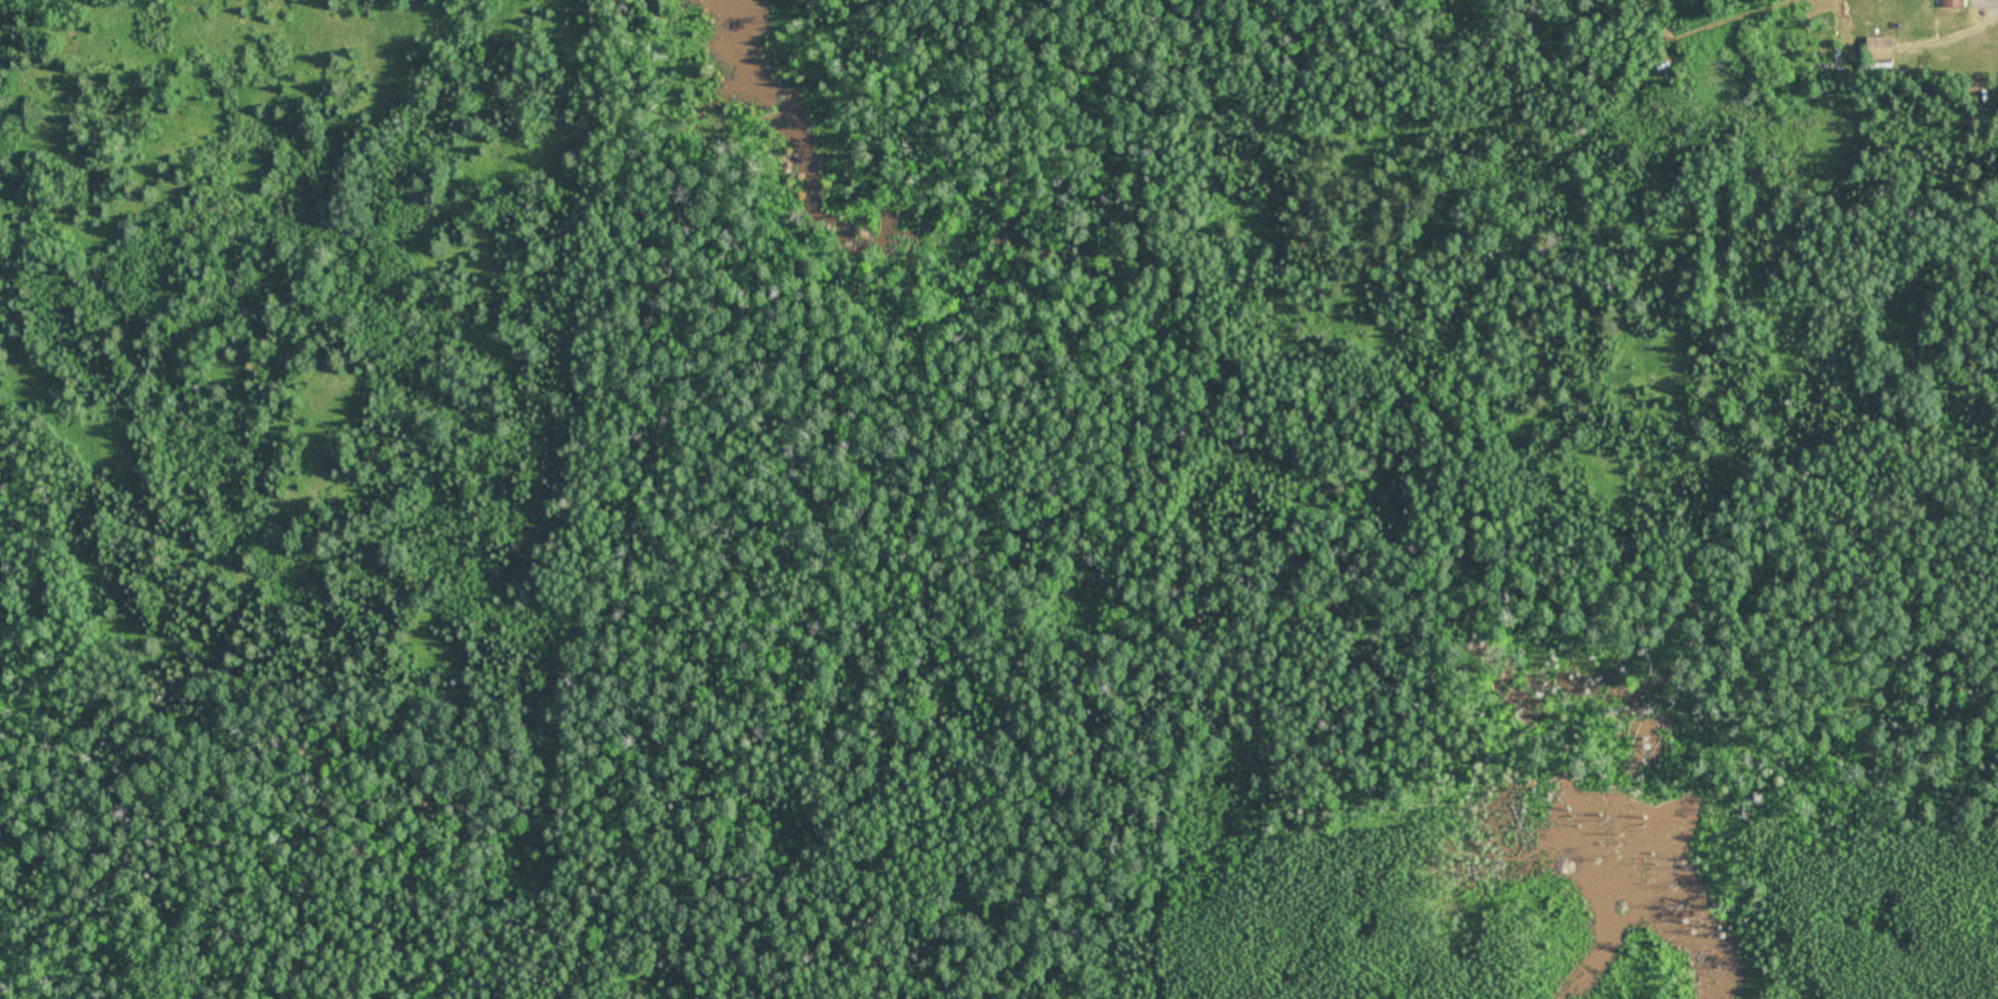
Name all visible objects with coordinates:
building: (1953, 3)
building: (1880, 48)

